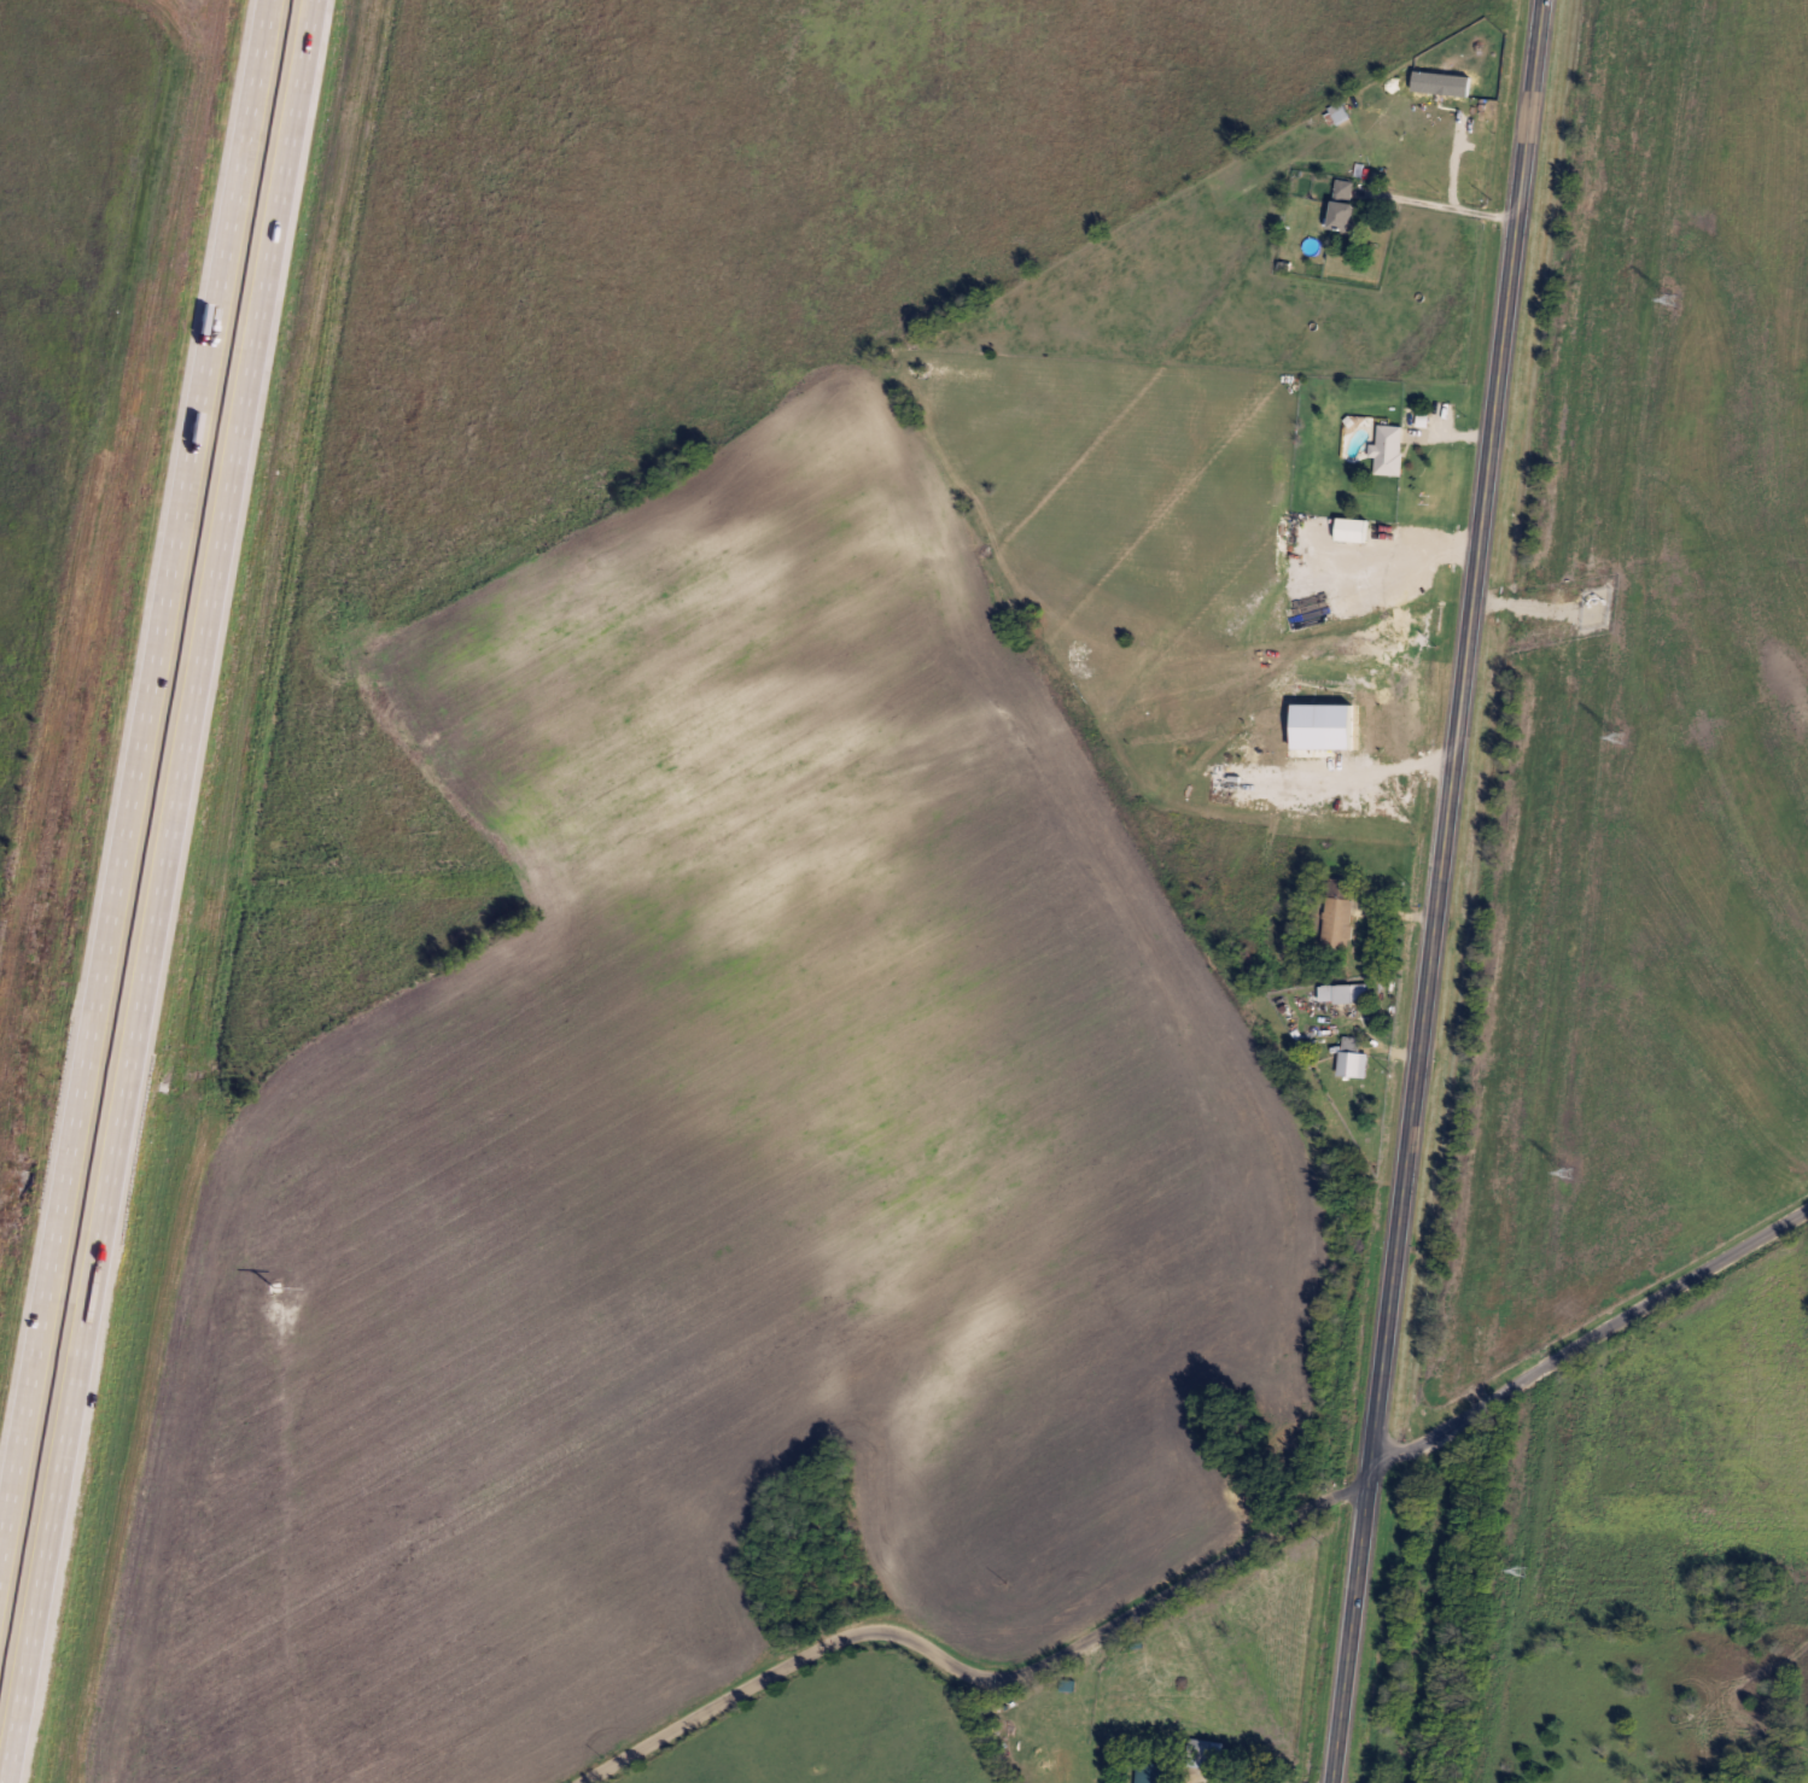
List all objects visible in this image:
building: (1338, 112)
building: (1343, 207)
road: (1446, 209)
power tower: (1670, 300)
road: (1447, 437)
building: (1388, 450)
building: (1351, 531)
power tower: (1620, 739)
road: (1378, 774)
road: (136, 794)
road: (153, 890)
railway: (1600, 890)
road: (1439, 891)
road: (1400, 911)
building: (1338, 914)
building: (1342, 993)
building: (1351, 1056)
power tower: (1568, 1170)
road: (1587, 1338)
power tower: (1521, 1571)
road: (979, 1672)
building: (1200, 1752)
building: (1153, 1772)
road: (1233, 1778)

